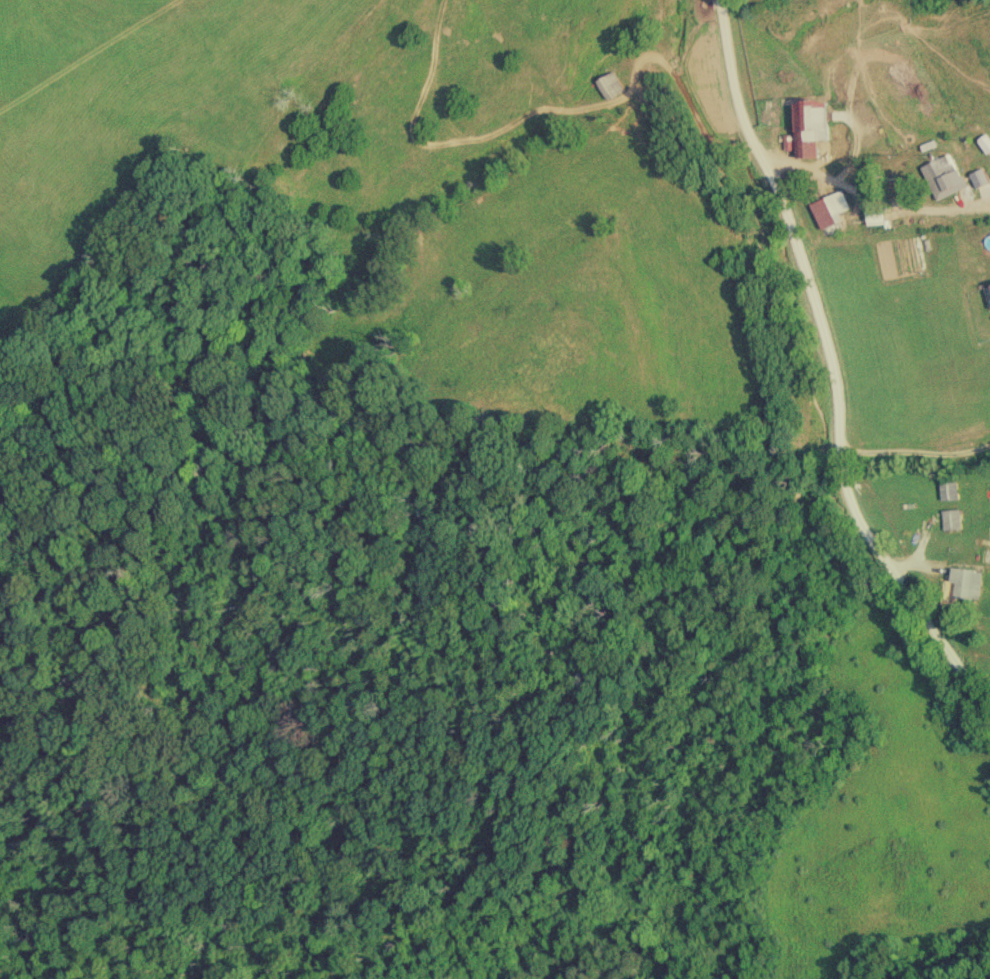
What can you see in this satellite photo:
road: (870, 210)
road: (831, 375)
road: (916, 457)

